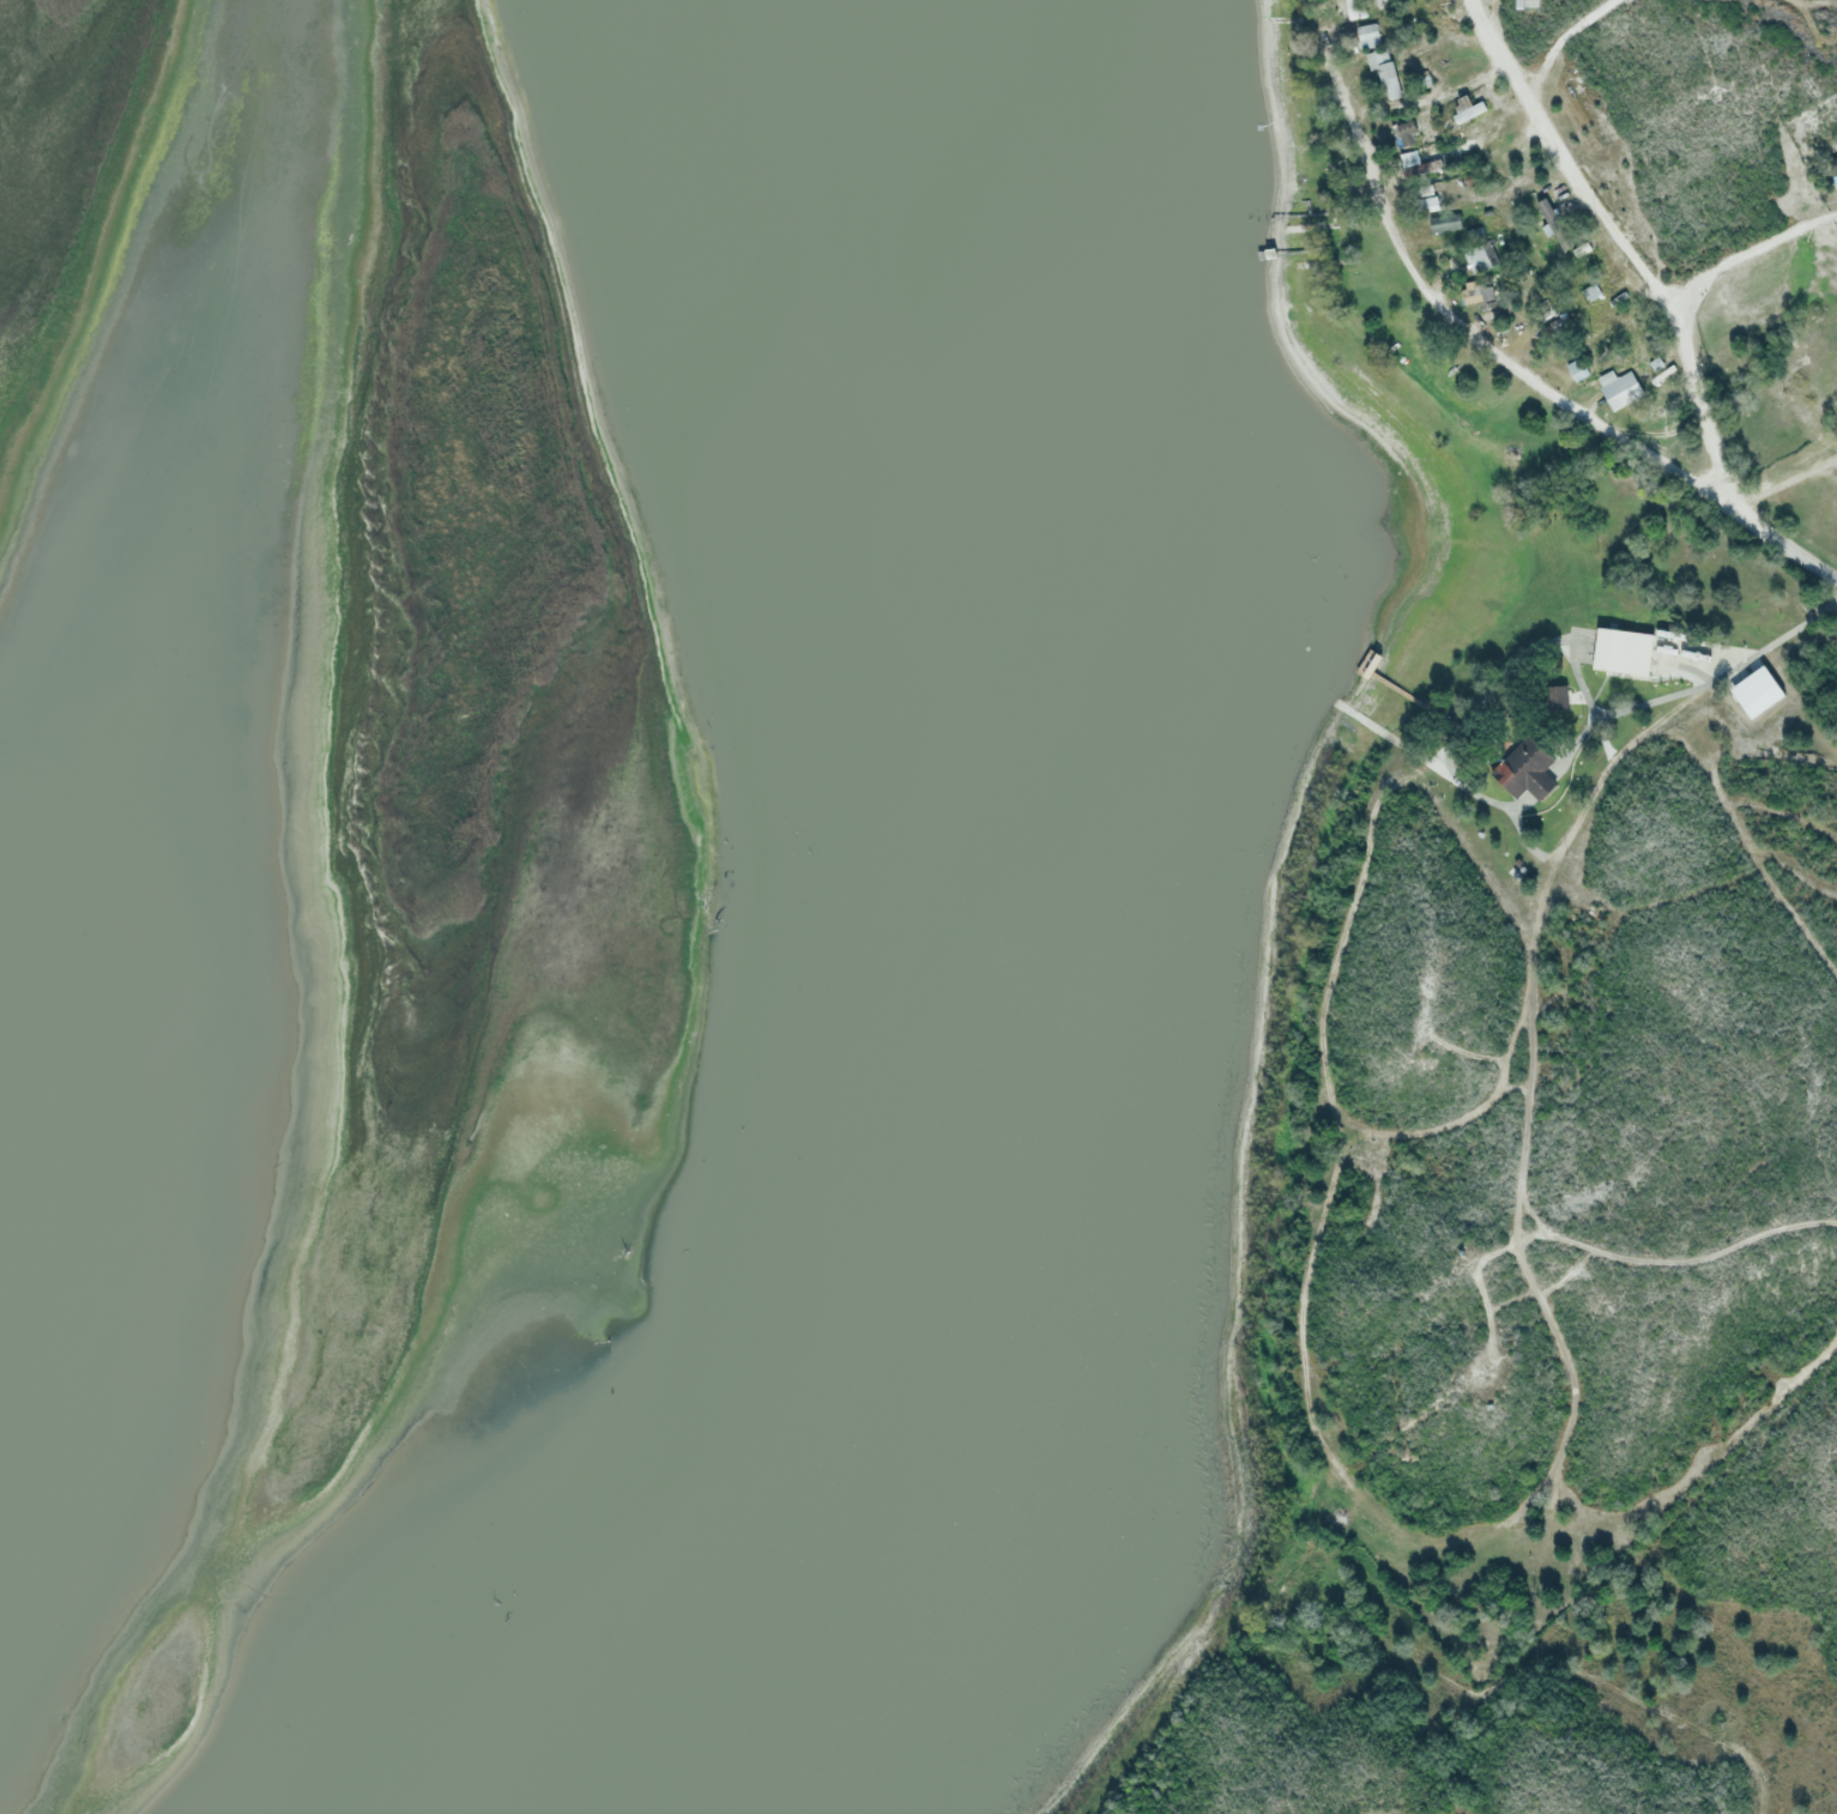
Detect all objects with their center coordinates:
building: (1529, 5)
building: (1354, 8)
building: (1367, 36)
building: (1383, 71)
building: (1468, 111)
building: (1408, 134)
building: (1410, 157)
building: (1421, 168)
building: (1835, 168)
building: (1420, 191)
building: (1424, 204)
building: (1444, 223)
building: (1555, 226)
road: (1628, 238)
building: (1484, 256)
building: (1474, 294)
building: (1609, 300)
road: (1484, 341)
building: (1577, 369)
building: (1662, 373)
building: (1618, 386)
road: (1784, 537)
building: (1620, 652)
building: (1754, 693)
building: (1560, 695)
building: (1525, 770)

